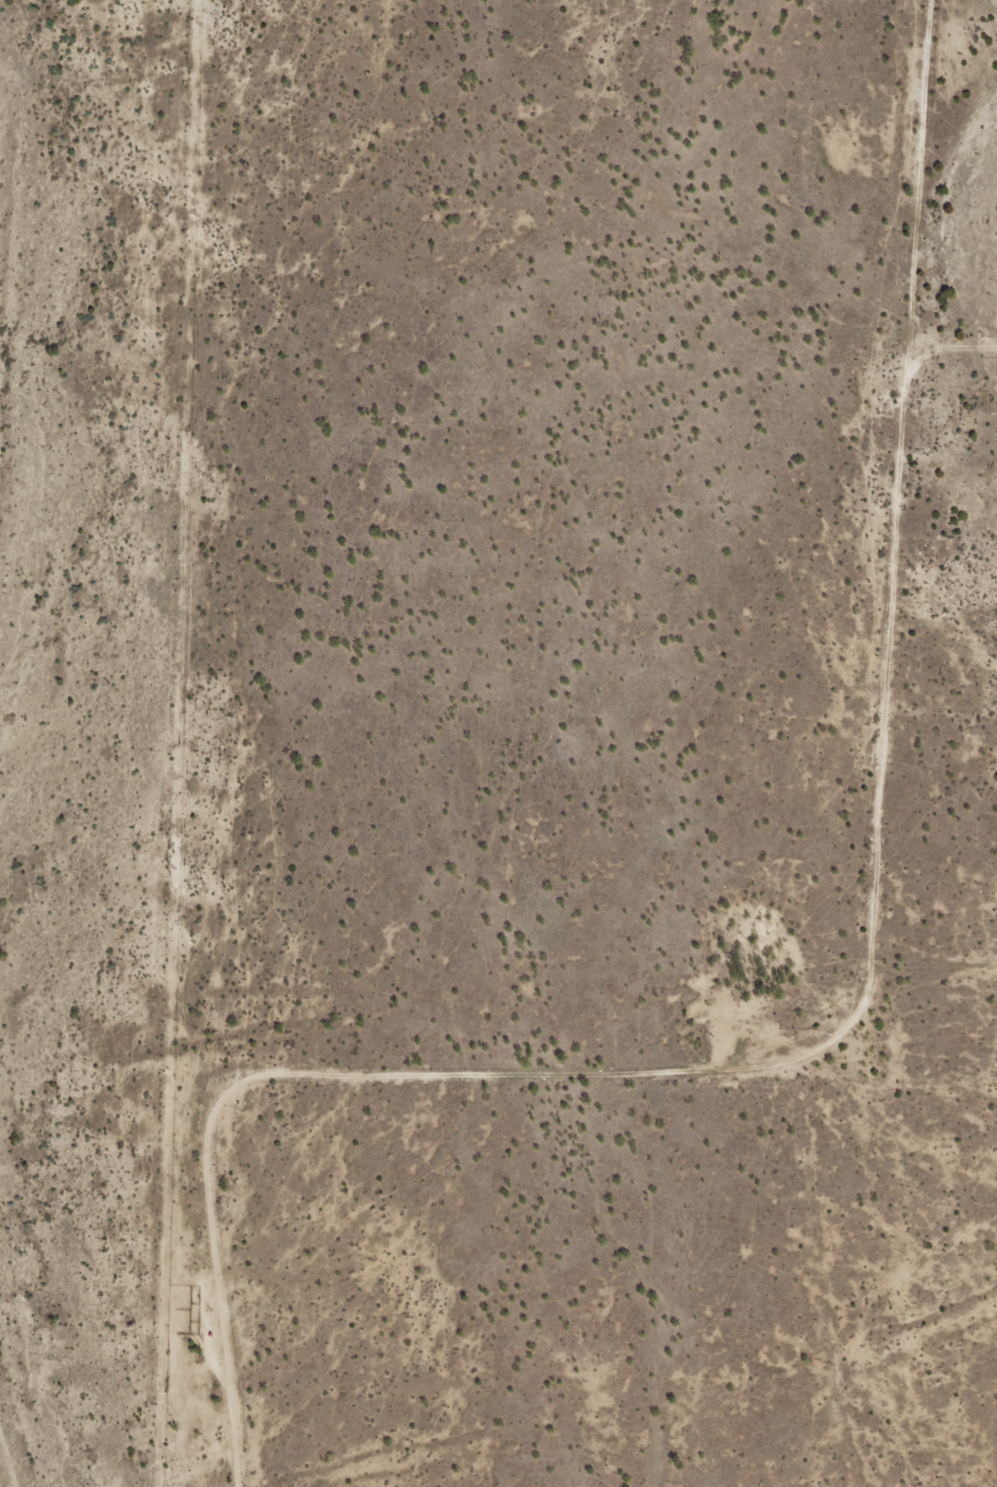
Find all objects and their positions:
road: (482, 1002)
road: (851, 1021)
road: (856, 1327)

